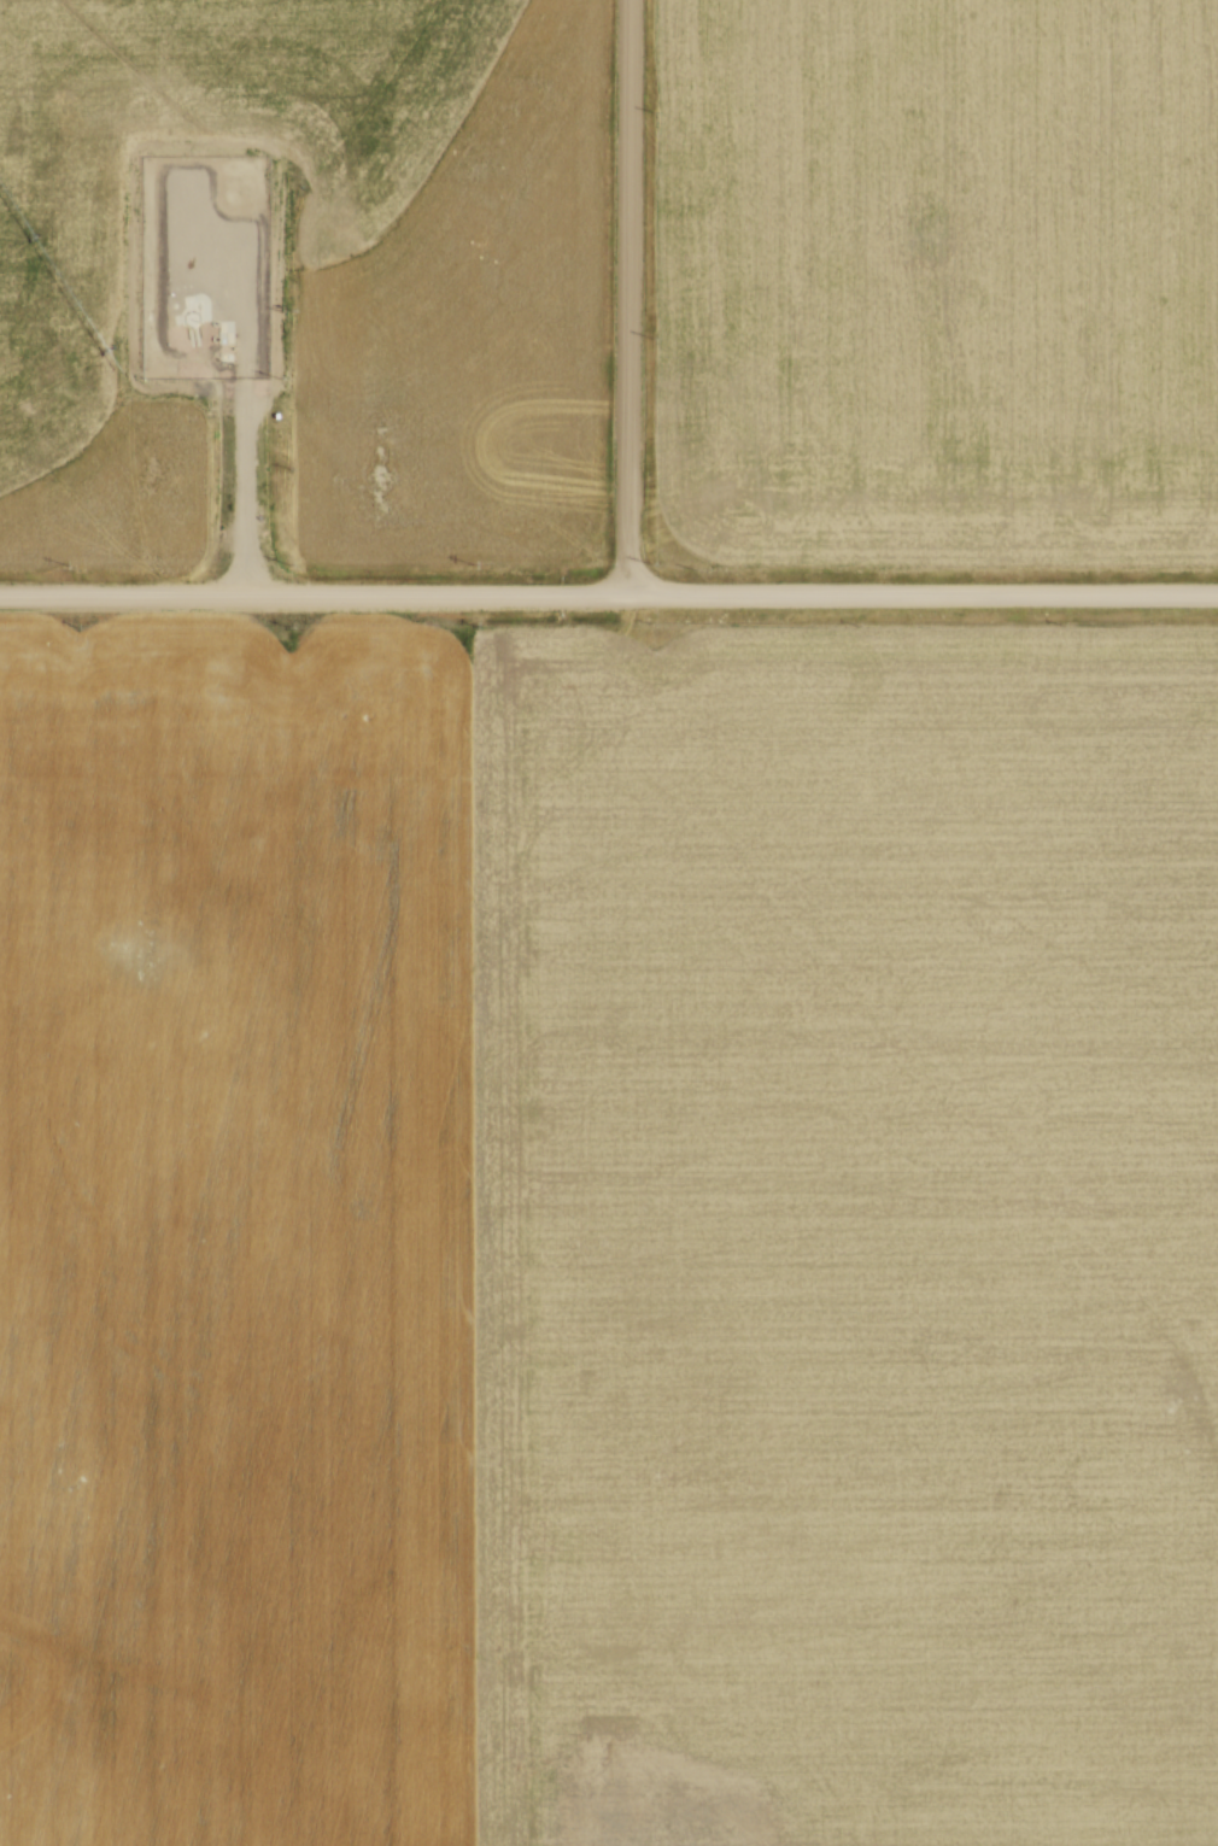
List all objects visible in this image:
crop: (433, 250)
crop: (936, 276)
road: (630, 298)
crop: (87, 429)
road: (232, 456)
road: (923, 593)
road: (314, 596)
crop: (608, 1232)

